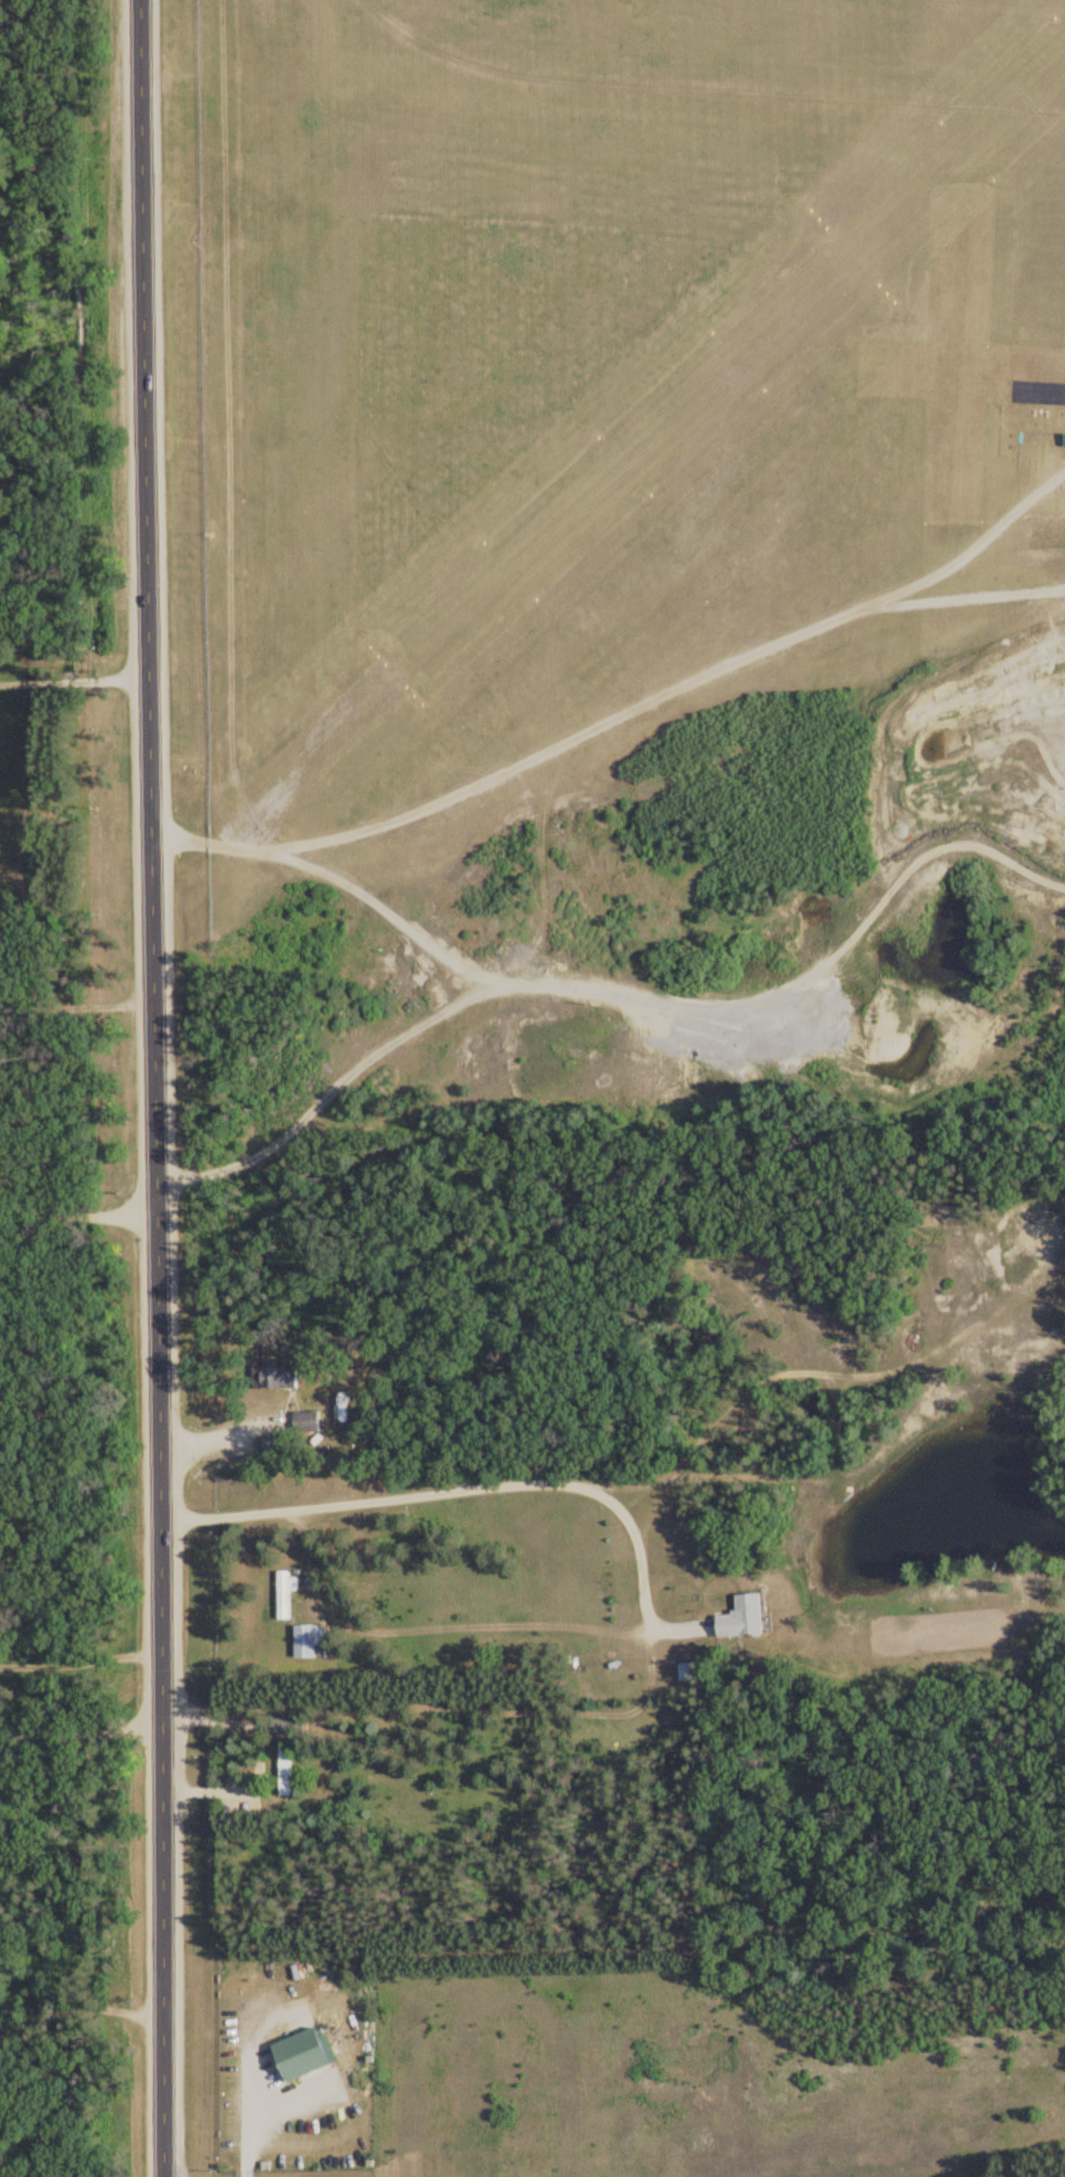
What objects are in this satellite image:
airport runway: (737, 362)
airport: (597, 395)
road: (996, 852)
road: (461, 1005)
road: (155, 1087)
building: (280, 1379)
building: (269, 1447)
building: (283, 1594)
building: (742, 1617)
building: (305, 1640)
road: (81, 1665)
building: (685, 1671)
building: (285, 1772)
road: (81, 1841)
building: (298, 1988)
road: (81, 2017)
building: (300, 2055)

